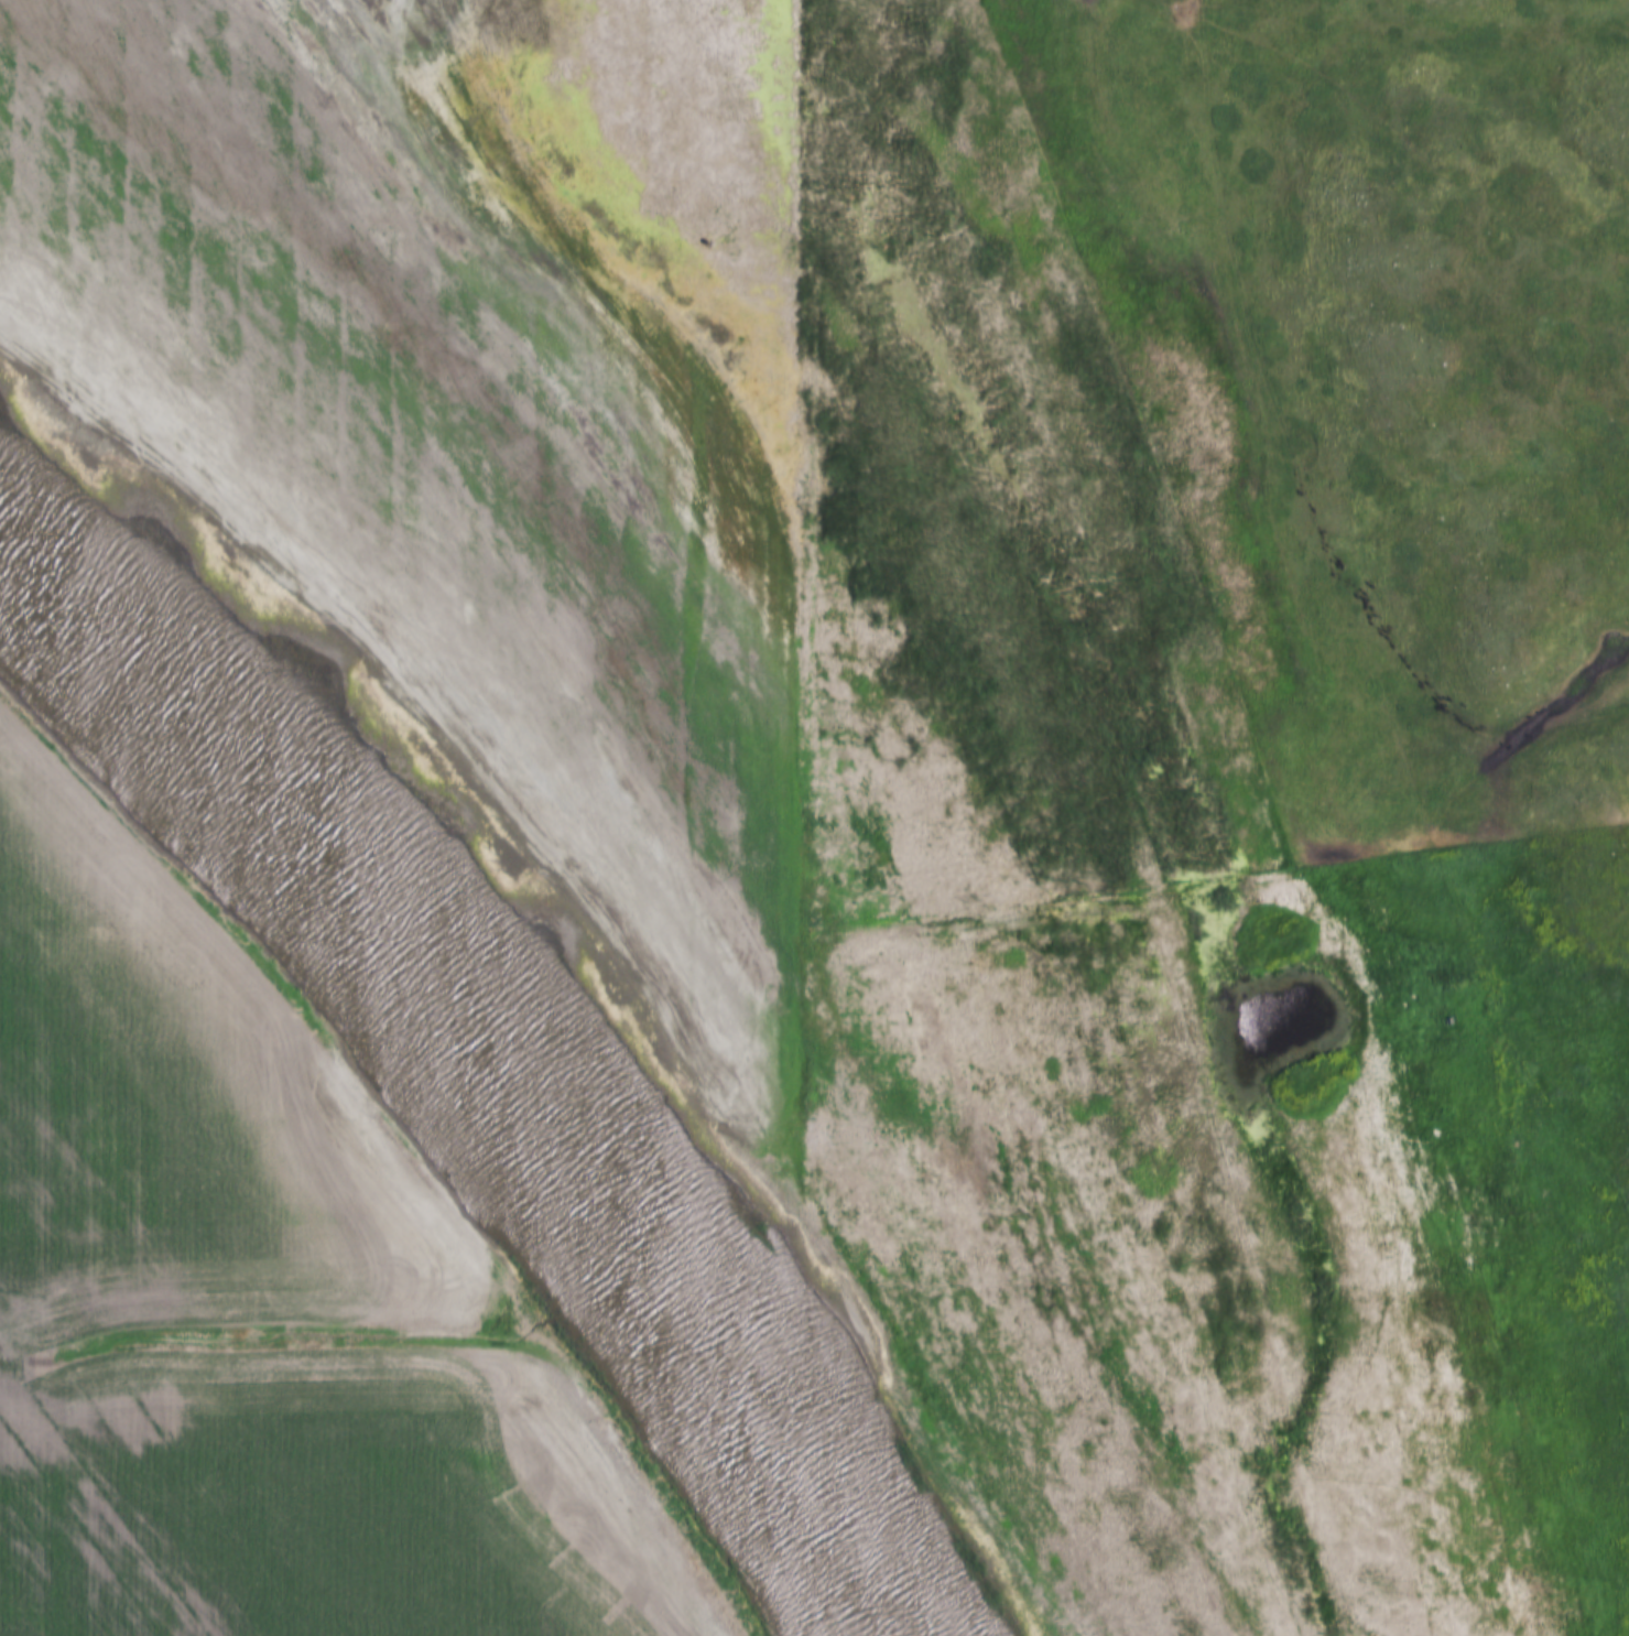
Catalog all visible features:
river: (492, 1052)

